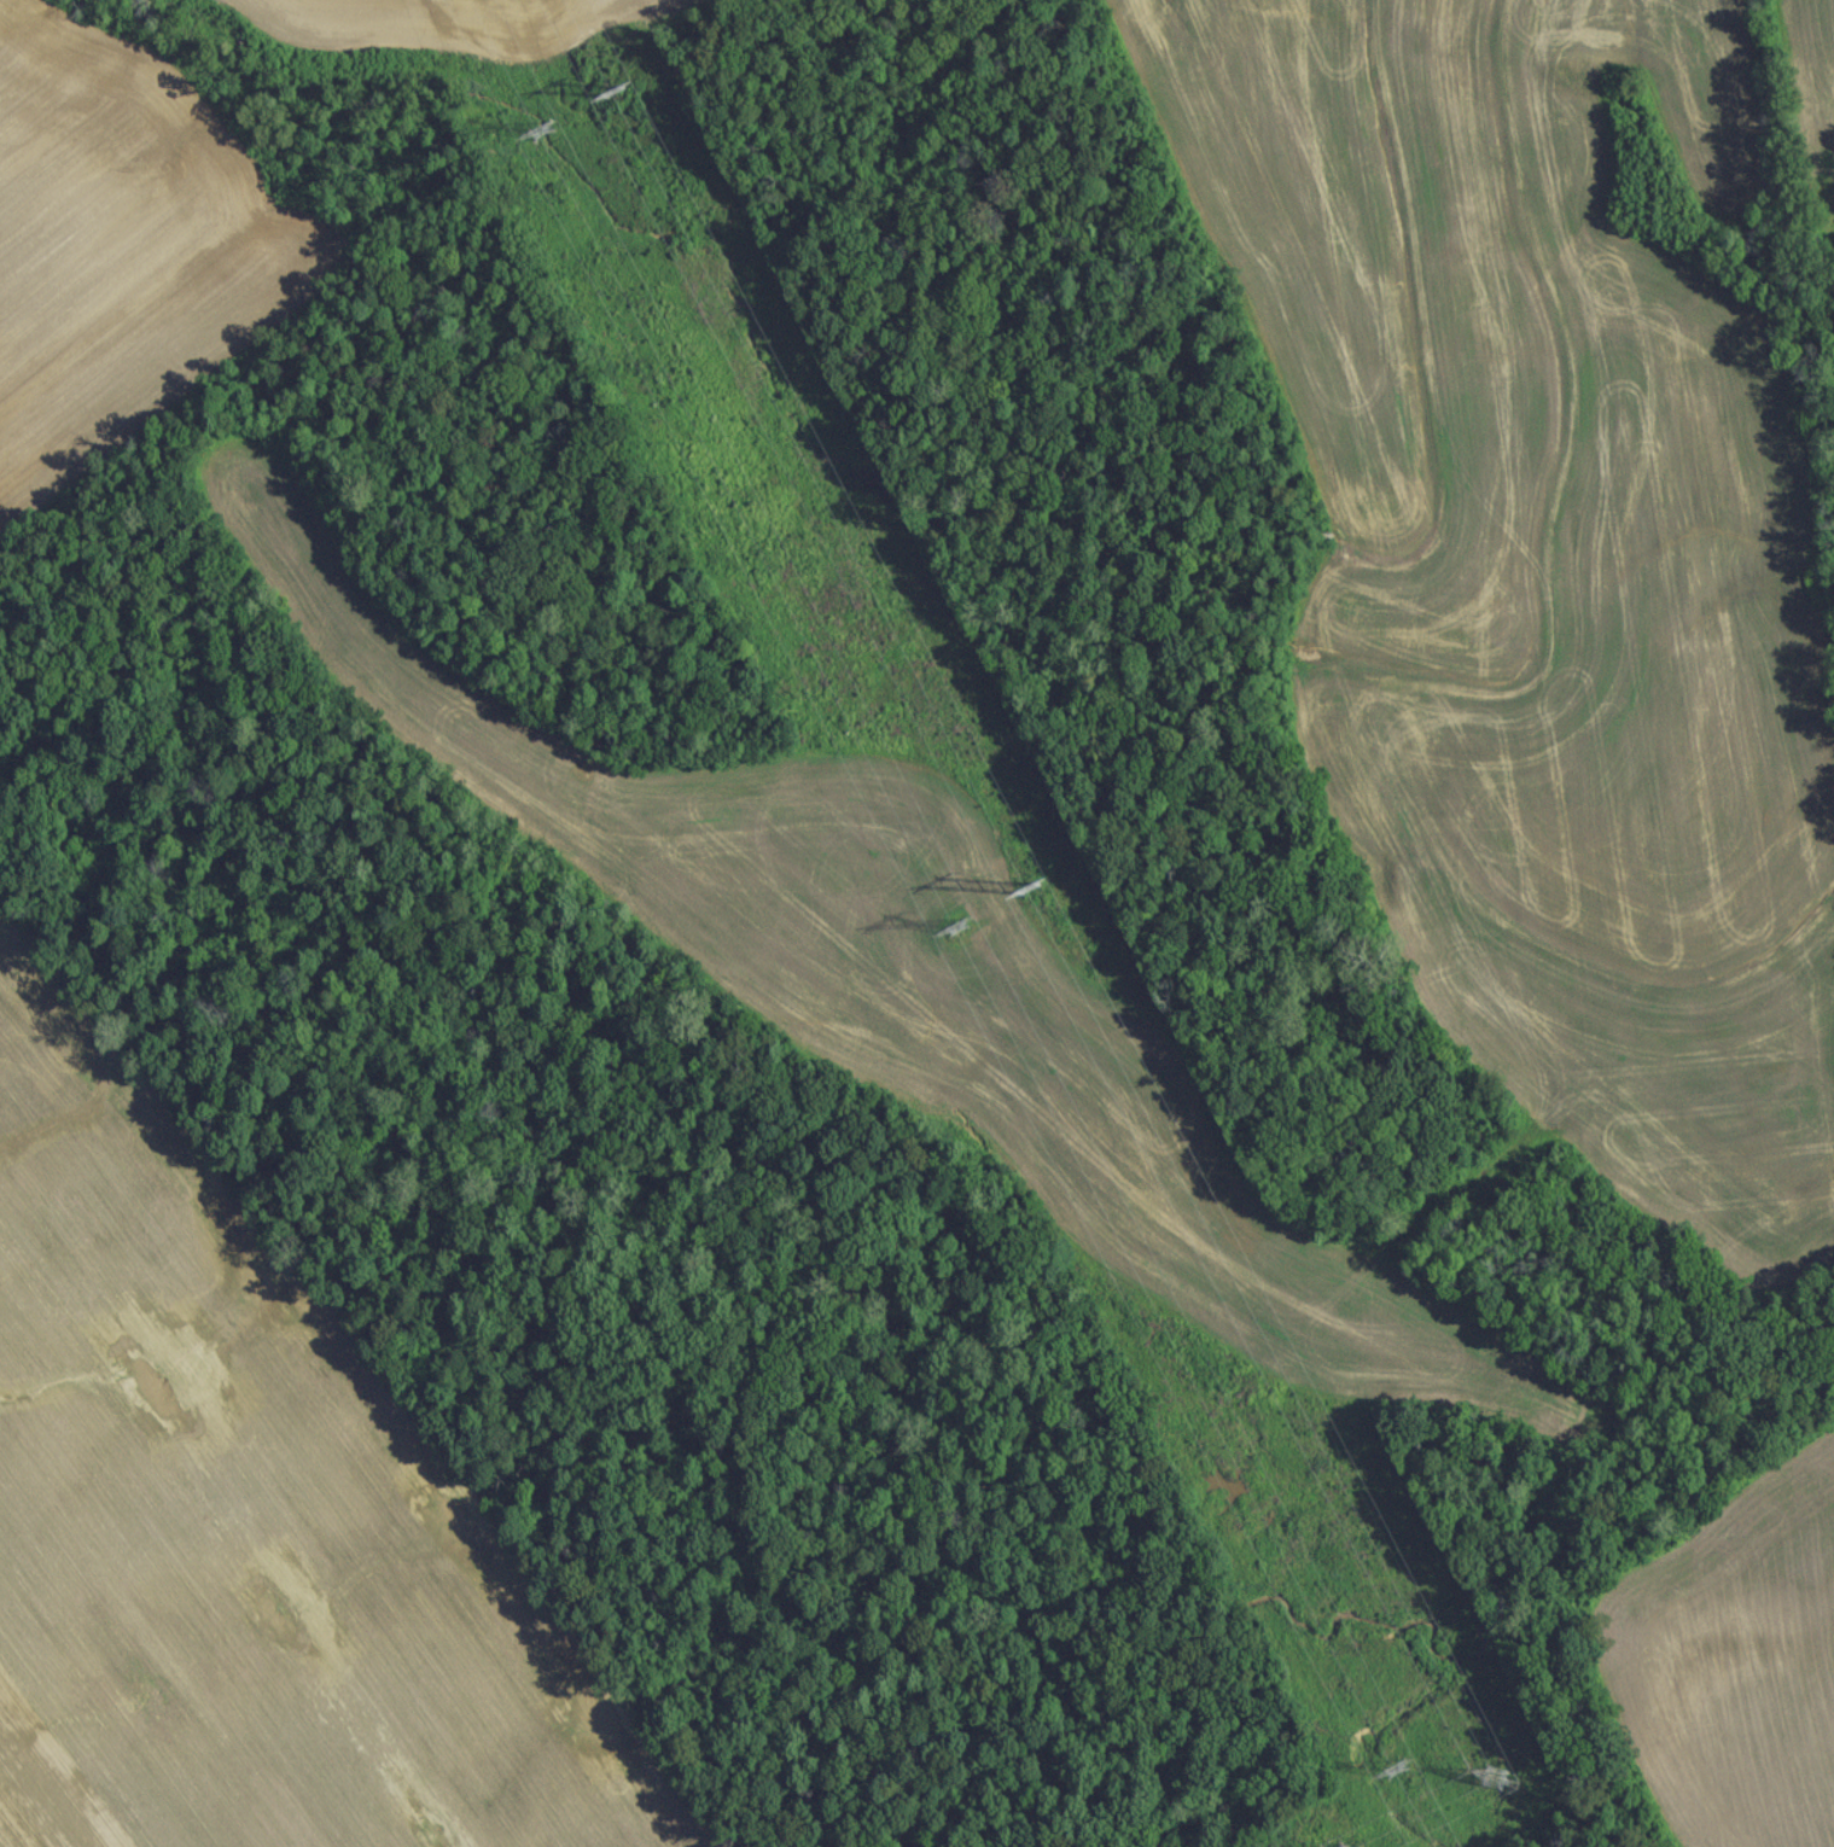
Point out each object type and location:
power tower: (610, 103)
power tower: (541, 136)
power tower: (1017, 898)
power tower: (954, 933)
power tower: (1395, 1778)
power tower: (1494, 1788)

